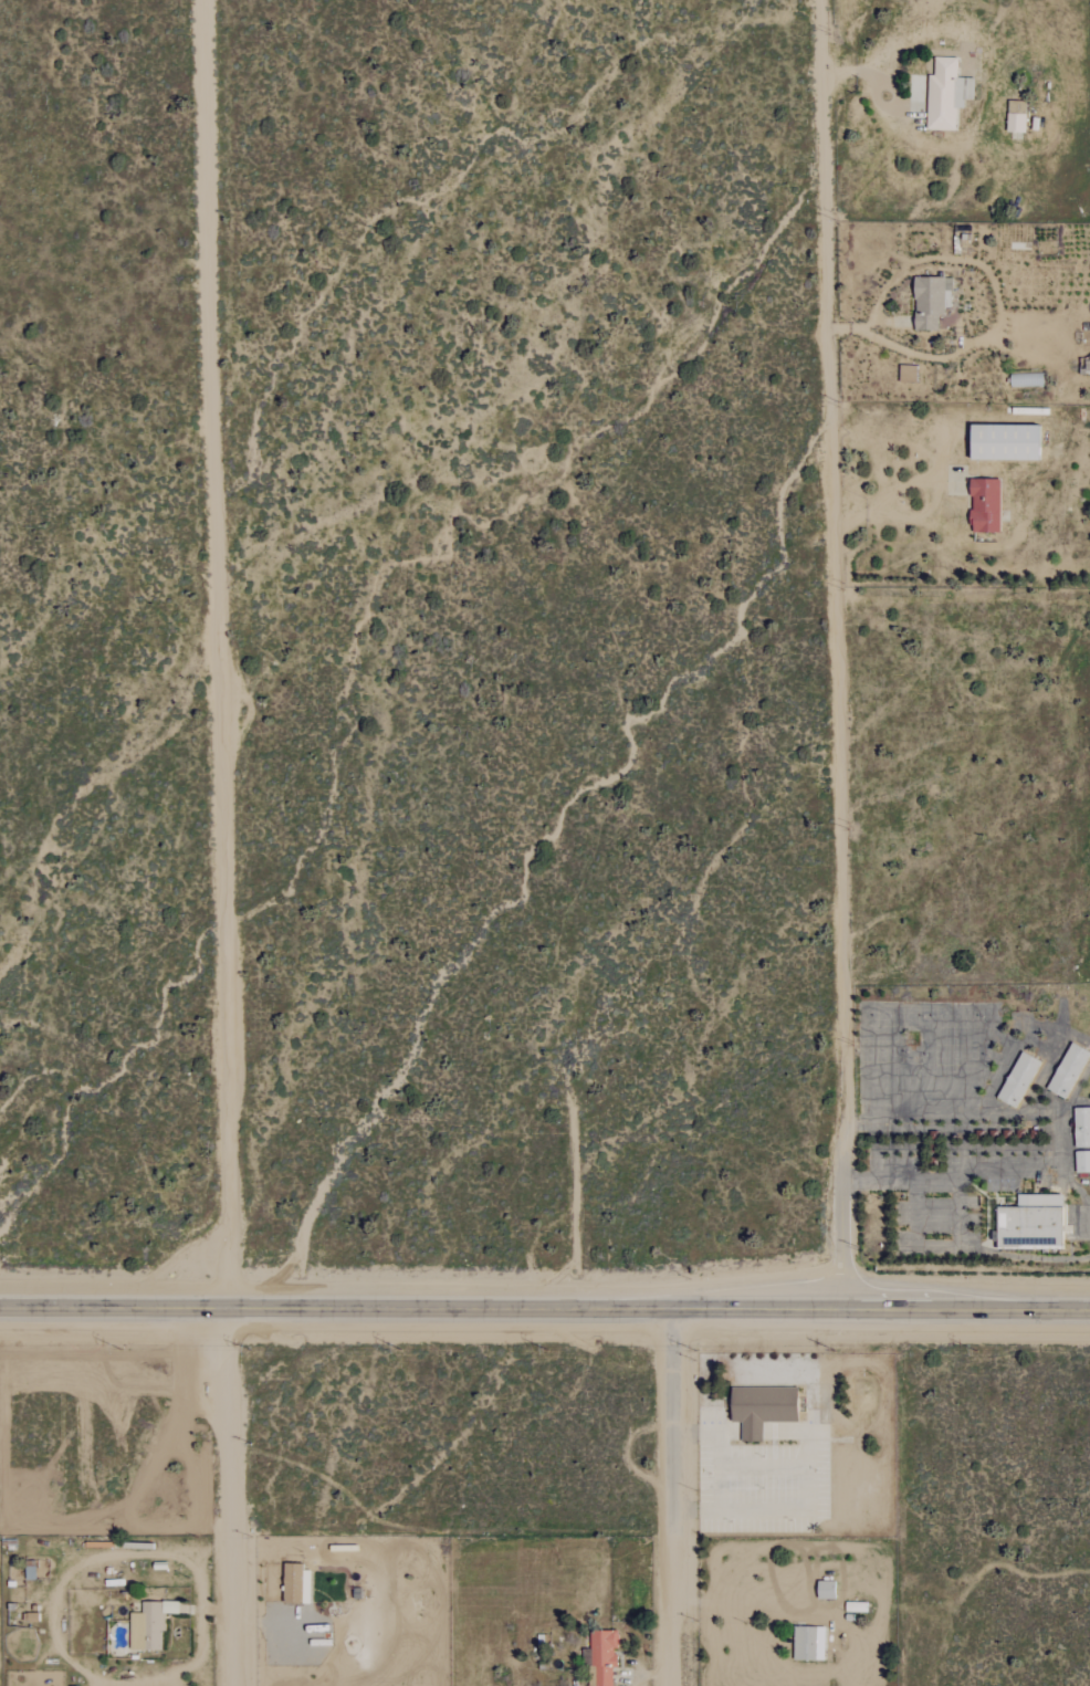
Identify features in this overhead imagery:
road: (932, 15)
road: (988, 77)
building: (945, 94)
road: (993, 277)
building: (930, 301)
building: (1002, 441)
road: (930, 496)
building: (984, 505)
road: (863, 513)
road: (836, 549)
road: (219, 652)
building: (1071, 1070)
building: (1023, 1079)
building: (1083, 1129)
building: (1081, 1162)
road: (1027, 1172)
road: (845, 1205)
road: (961, 1212)
building: (1033, 1226)
road: (1025, 1257)
road: (544, 1309)
building: (765, 1407)
road: (674, 1426)
road: (709, 1433)
road: (808, 1487)
road: (230, 1496)
road: (729, 1601)
road: (678, 1613)
building: (146, 1627)
building: (807, 1643)
building: (602, 1656)

